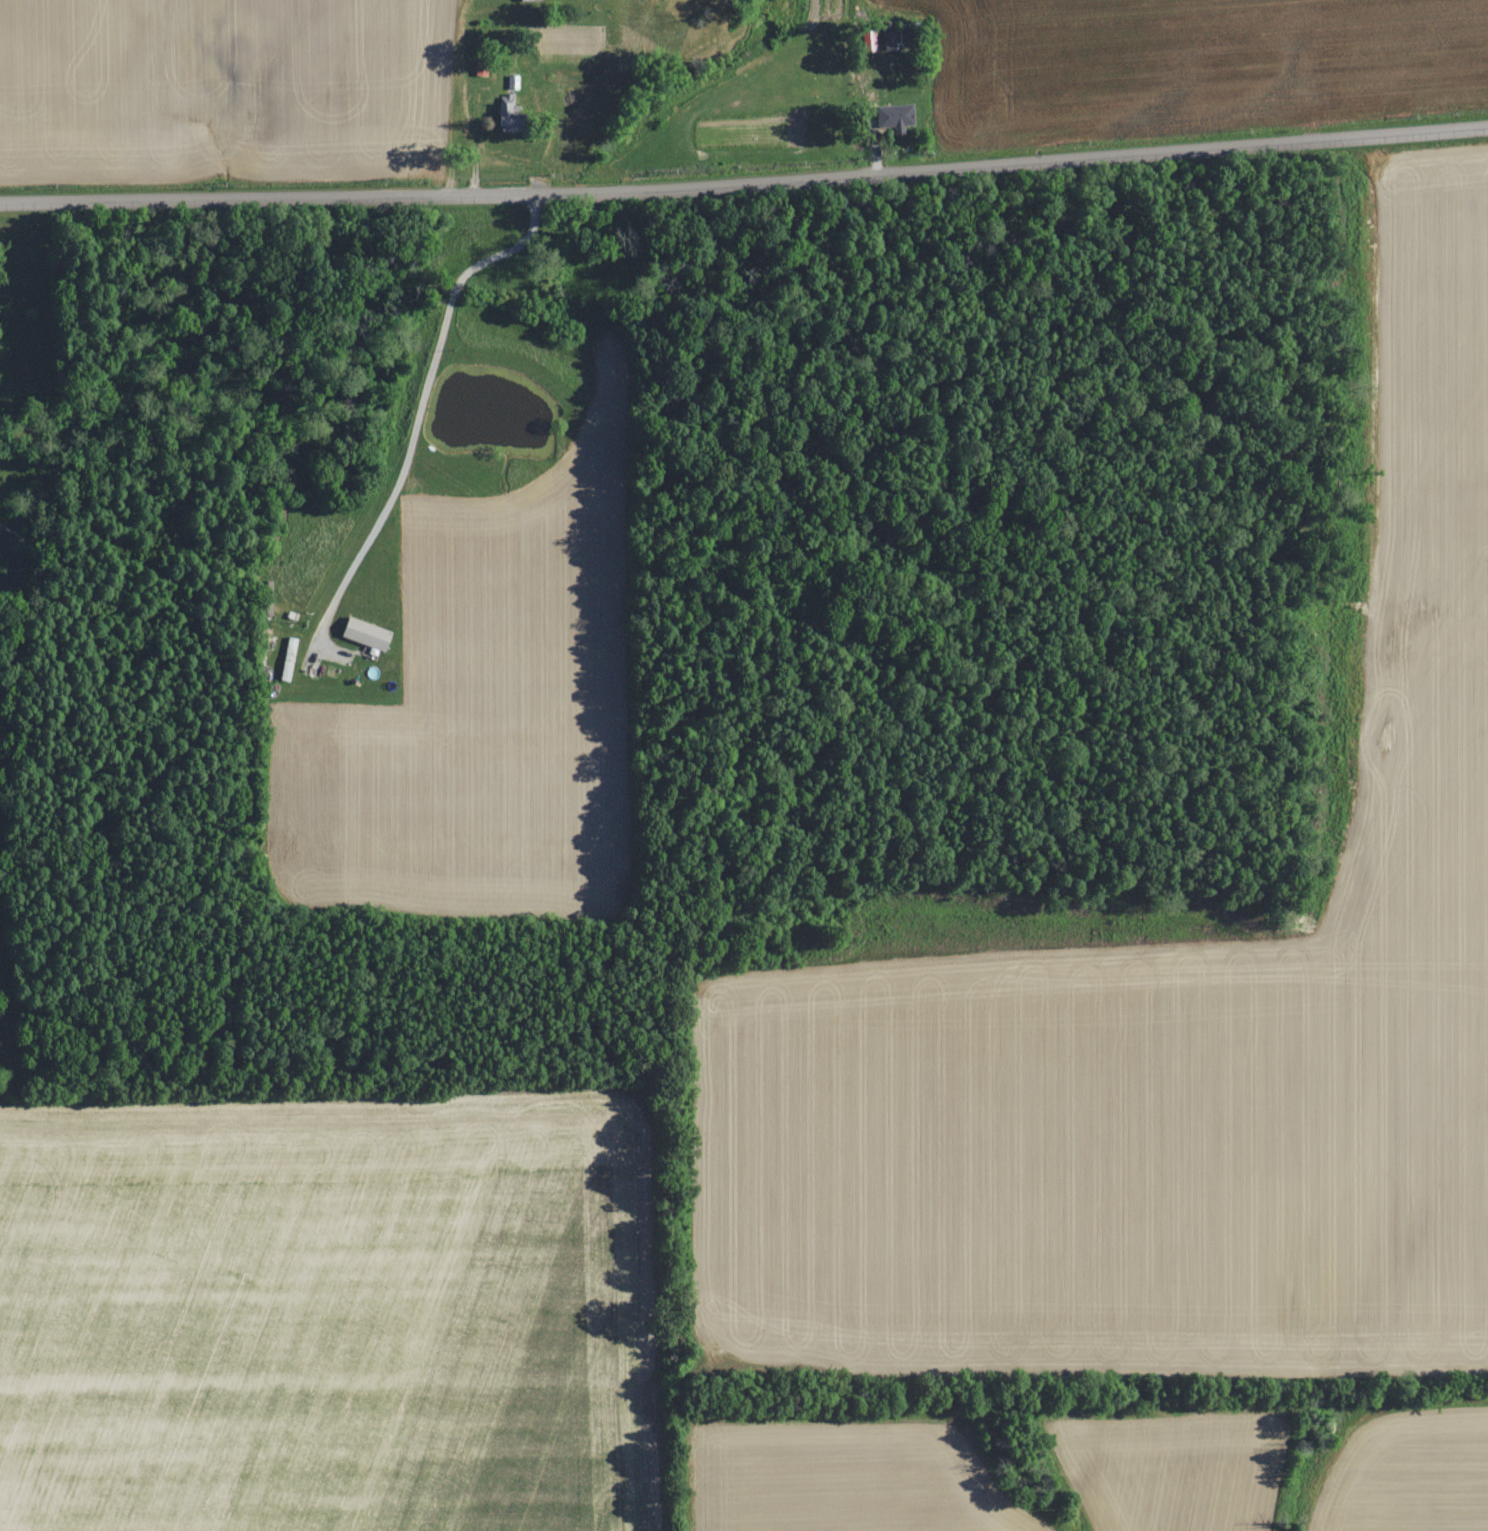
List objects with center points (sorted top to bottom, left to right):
road: (451, 98)
building: (895, 115)
road: (1076, 161)
road: (332, 198)
road: (422, 405)
building: (367, 633)

